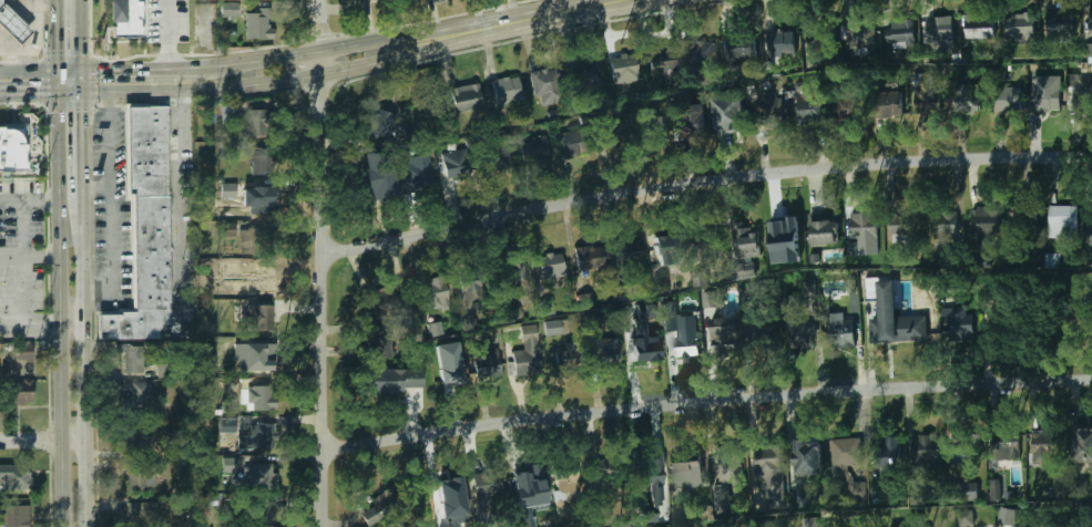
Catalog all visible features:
building: (259, 0)
building: (229, 8)
road: (563, 13)
building: (125, 19)
building: (1059, 22)
building: (1090, 22)
building: (258, 23)
building: (11, 24)
gas station: (11, 24)
building: (979, 27)
building: (1018, 28)
road: (470, 30)
building: (901, 31)
building: (939, 32)
road: (165, 34)
building: (859, 34)
road: (53, 35)
road: (471, 37)
building: (817, 38)
building: (778, 43)
road: (79, 46)
building: (741, 48)
traffic signals: (53, 49)
road: (320, 50)
building: (700, 55)
building: (662, 62)
building: (623, 68)
road: (140, 69)
road: (40, 71)
traffic signals: (103, 71)
building: (582, 73)
road: (249, 83)
building: (543, 86)
building: (507, 90)
road: (25, 94)
traffic signals: (39, 94)
building: (1081, 94)
building: (462, 97)
building: (1044, 99)
building: (966, 100)
building: (1006, 100)
building: (927, 101)
building: (807, 102)
building: (886, 106)
building: (845, 108)
traffic signals: (82, 115)
building: (770, 116)
building: (729, 118)
building: (378, 122)
building: (252, 124)
building: (652, 126)
building: (691, 130)
building: (608, 137)
building: (623, 139)
building: (574, 142)
building: (13, 145)
building: (532, 149)
building: (147, 152)
building: (493, 154)
building: (261, 162)
building: (455, 163)
road: (83, 169)
building: (377, 172)
building: (416, 172)
road: (703, 182)
road: (96, 187)
building: (228, 190)
building: (258, 200)
road: (27, 203)
road: (110, 203)
building: (1020, 215)
road: (173, 220)
building: (1062, 221)
building: (860, 223)
building: (982, 224)
building: (1091, 224)
building: (945, 225)
building: (901, 227)
building: (228, 229)
building: (824, 229)
building: (784, 231)
building: (247, 240)
building: (703, 240)
building: (743, 242)
building: (666, 244)
building: (152, 254)
building: (627, 254)
road: (27, 257)
building: (589, 257)
building: (1052, 260)
road: (320, 263)
building: (550, 266)
building: (512, 271)
building: (743, 271)
building: (700, 279)
building: (254, 281)
building: (662, 286)
building: (470, 287)
building: (809, 288)
building: (433, 292)
building: (986, 296)
road: (54, 299)
building: (258, 317)
building: (955, 317)
building: (1082, 317)
building: (470, 321)
building: (919, 324)
road: (28, 325)
road: (72, 325)
building: (551, 328)
building: (436, 329)
building: (725, 329)
building: (681, 330)
building: (840, 330)
building: (411, 332)
building: (800, 334)
building: (877, 335)
building: (382, 347)
building: (229, 348)
building: (647, 349)
road: (744, 350)
building: (527, 351)
building: (569, 354)
building: (604, 355)
building: (258, 356)
building: (131, 360)
building: (563, 361)
building: (486, 363)
building: (448, 371)
building: (392, 379)
road: (90, 386)
building: (19, 392)
building: (137, 396)
building: (254, 399)
road: (706, 401)
building: (229, 404)
building: (261, 436)
road: (45, 437)
building: (136, 437)
building: (1083, 445)
building: (1042, 447)
building: (926, 449)
building: (1008, 451)
building: (845, 454)
building: (966, 455)
building: (888, 456)
building: (809, 459)
building: (768, 468)
building: (724, 472)
building: (650, 474)
building: (686, 475)
building: (16, 476)
building: (139, 476)
building: (254, 478)
building: (528, 482)
building: (486, 484)
building: (567, 486)
building: (879, 489)
building: (994, 489)
building: (448, 492)
building: (967, 492)
building: (803, 498)
building: (211, 500)
building: (378, 509)
building: (258, 514)
building: (140, 515)
building: (16, 516)
building: (966, 517)
building: (1007, 517)
building: (810, 524)
building: (1064, 526)

